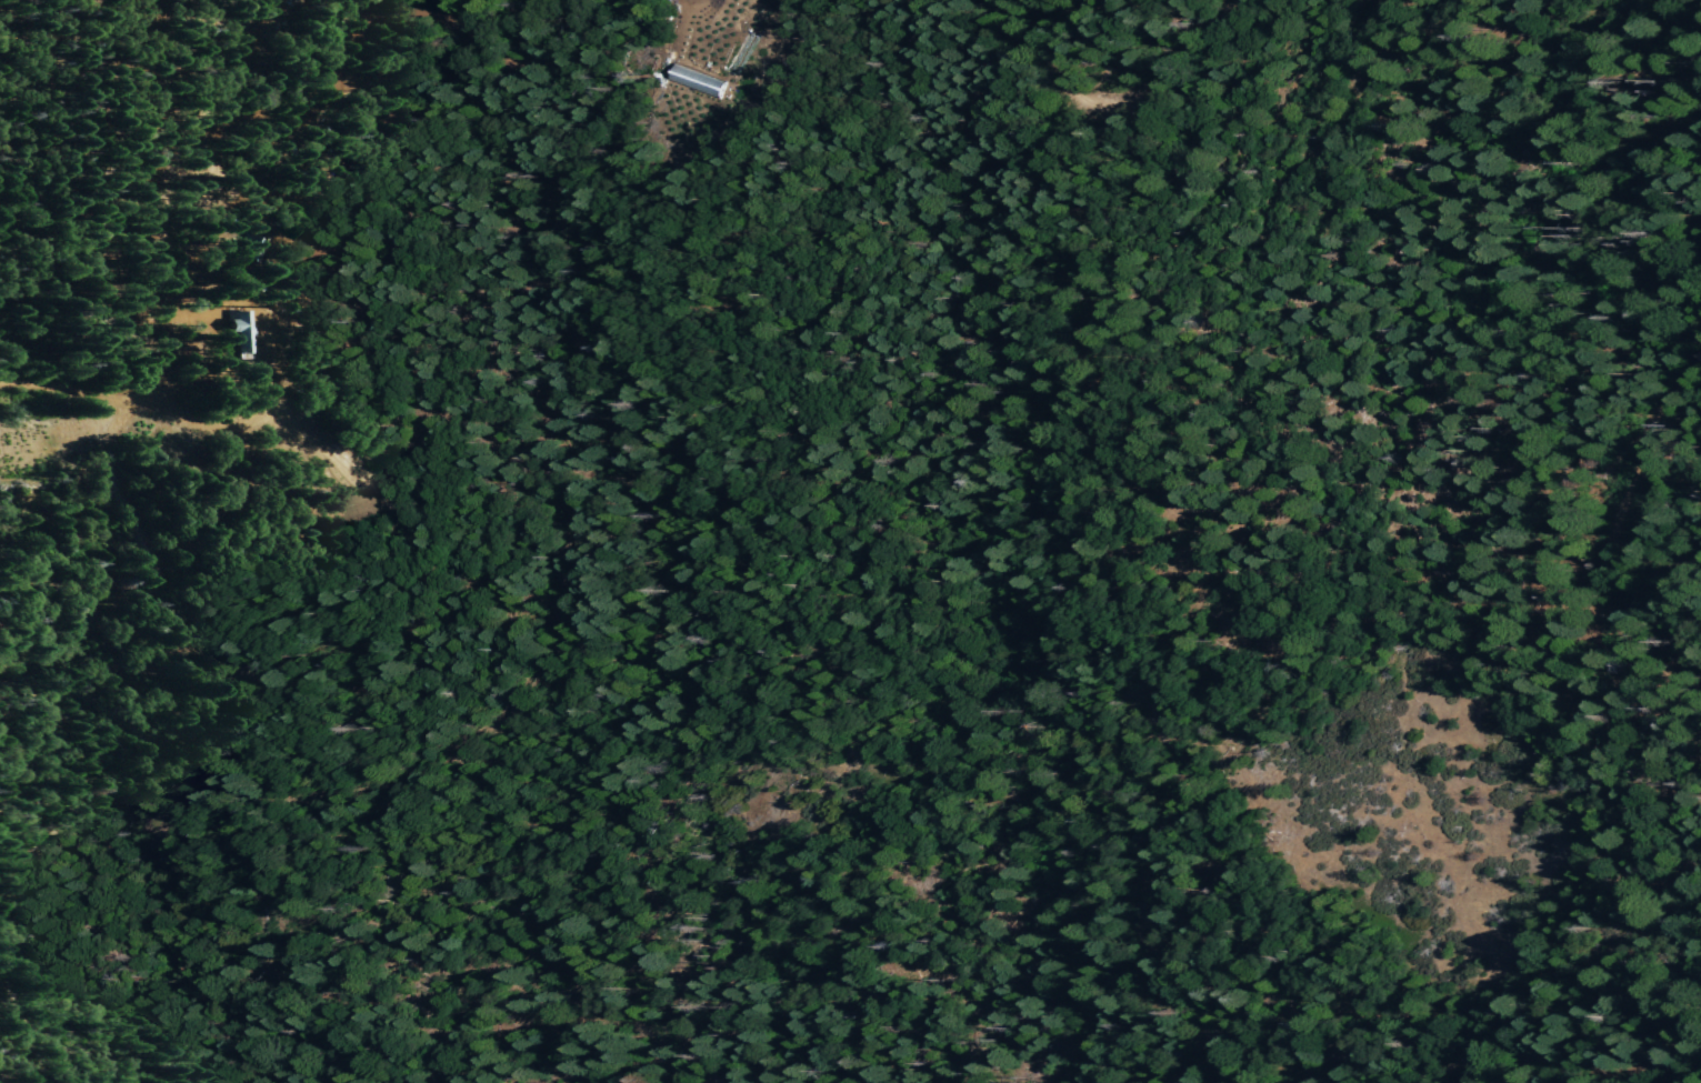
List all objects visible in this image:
road: (686, 1)
building: (692, 79)
road: (1121, 104)
road: (119, 402)
road: (1593, 610)
road: (1552, 1052)

